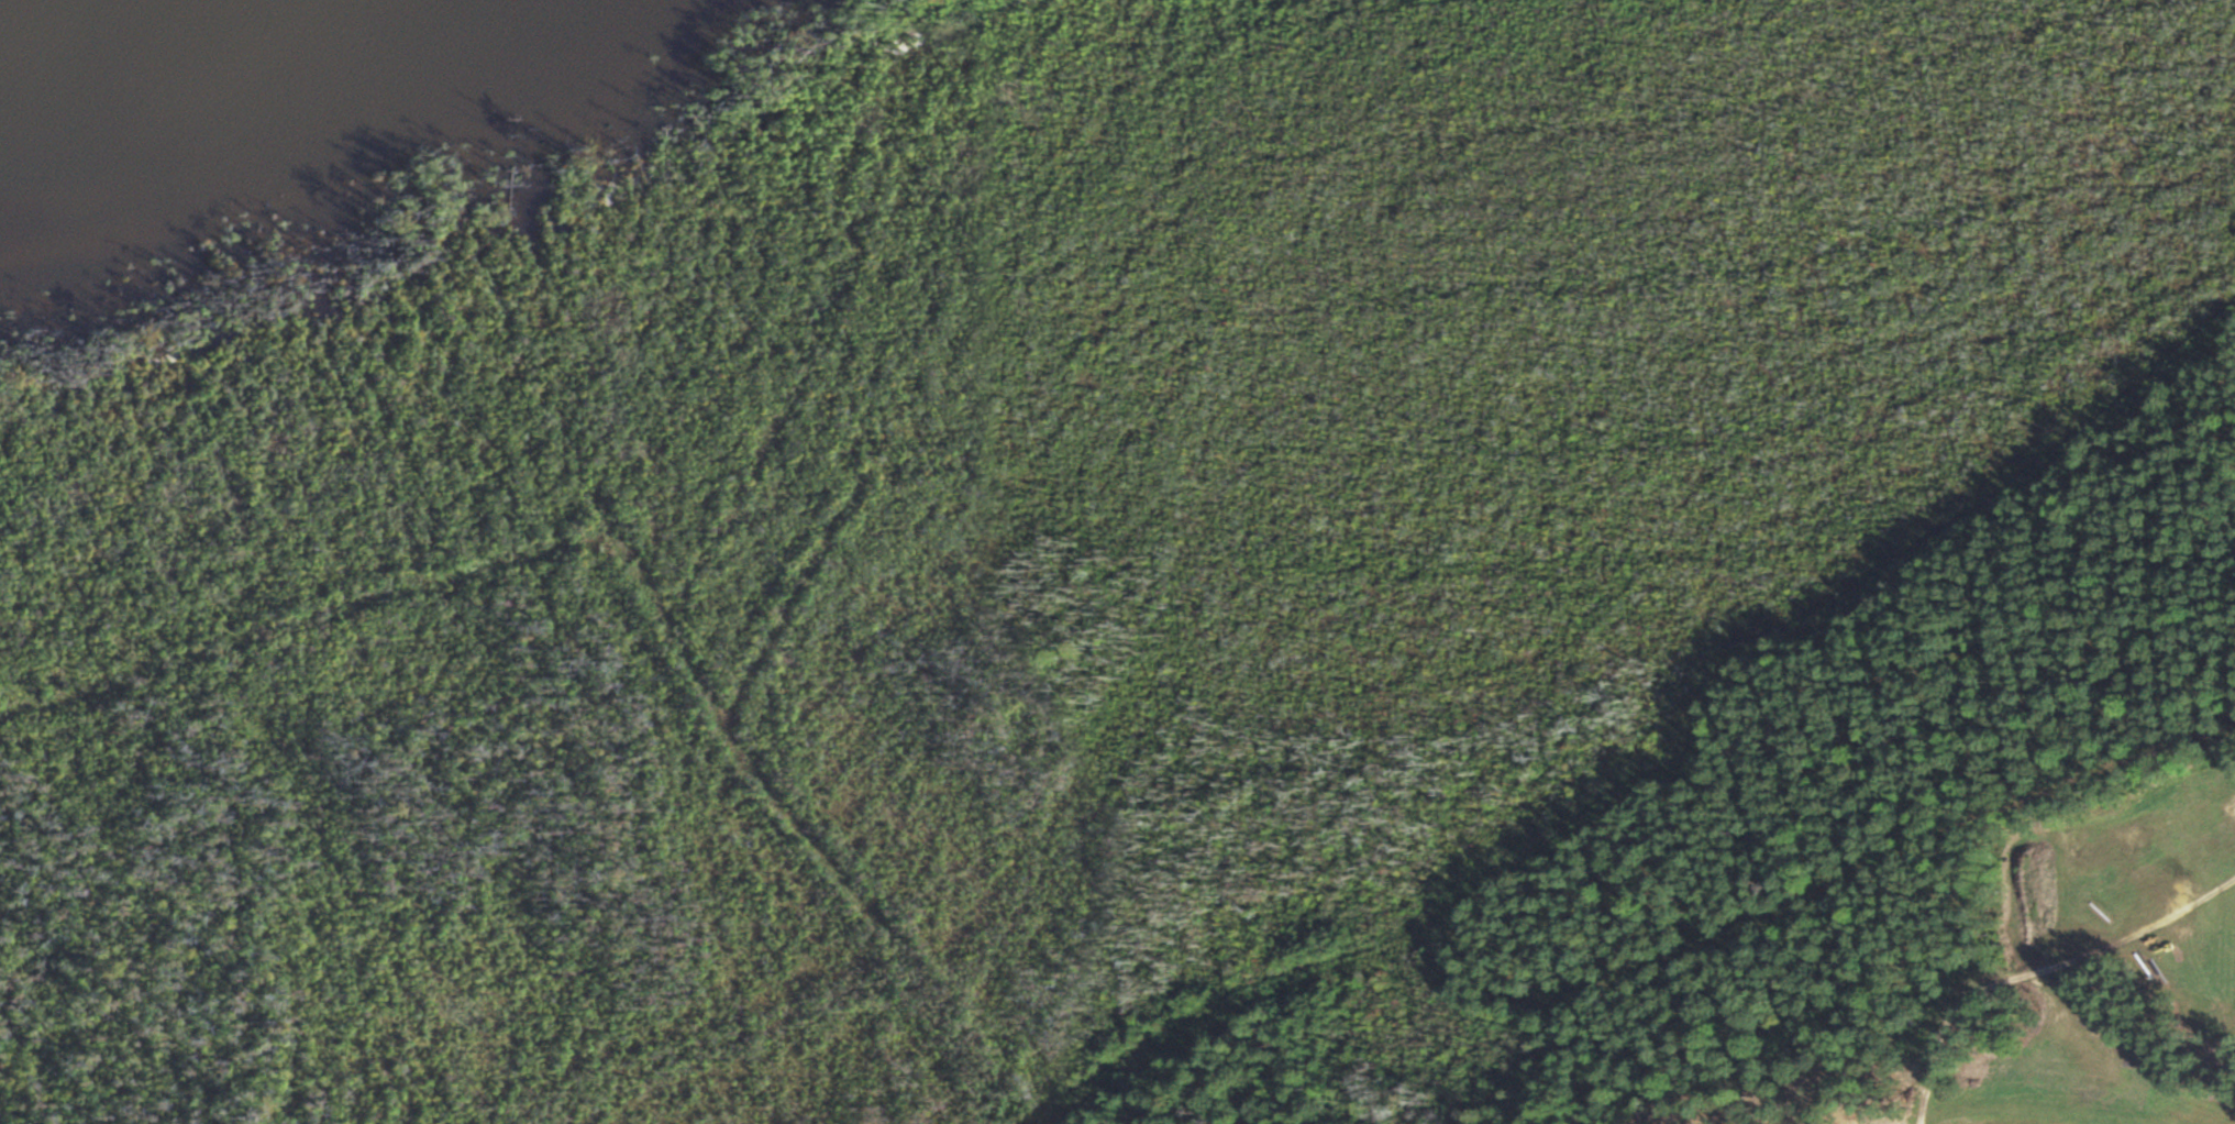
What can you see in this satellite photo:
road: (2053, 974)
road: (1962, 1006)
road: (2054, 1108)

